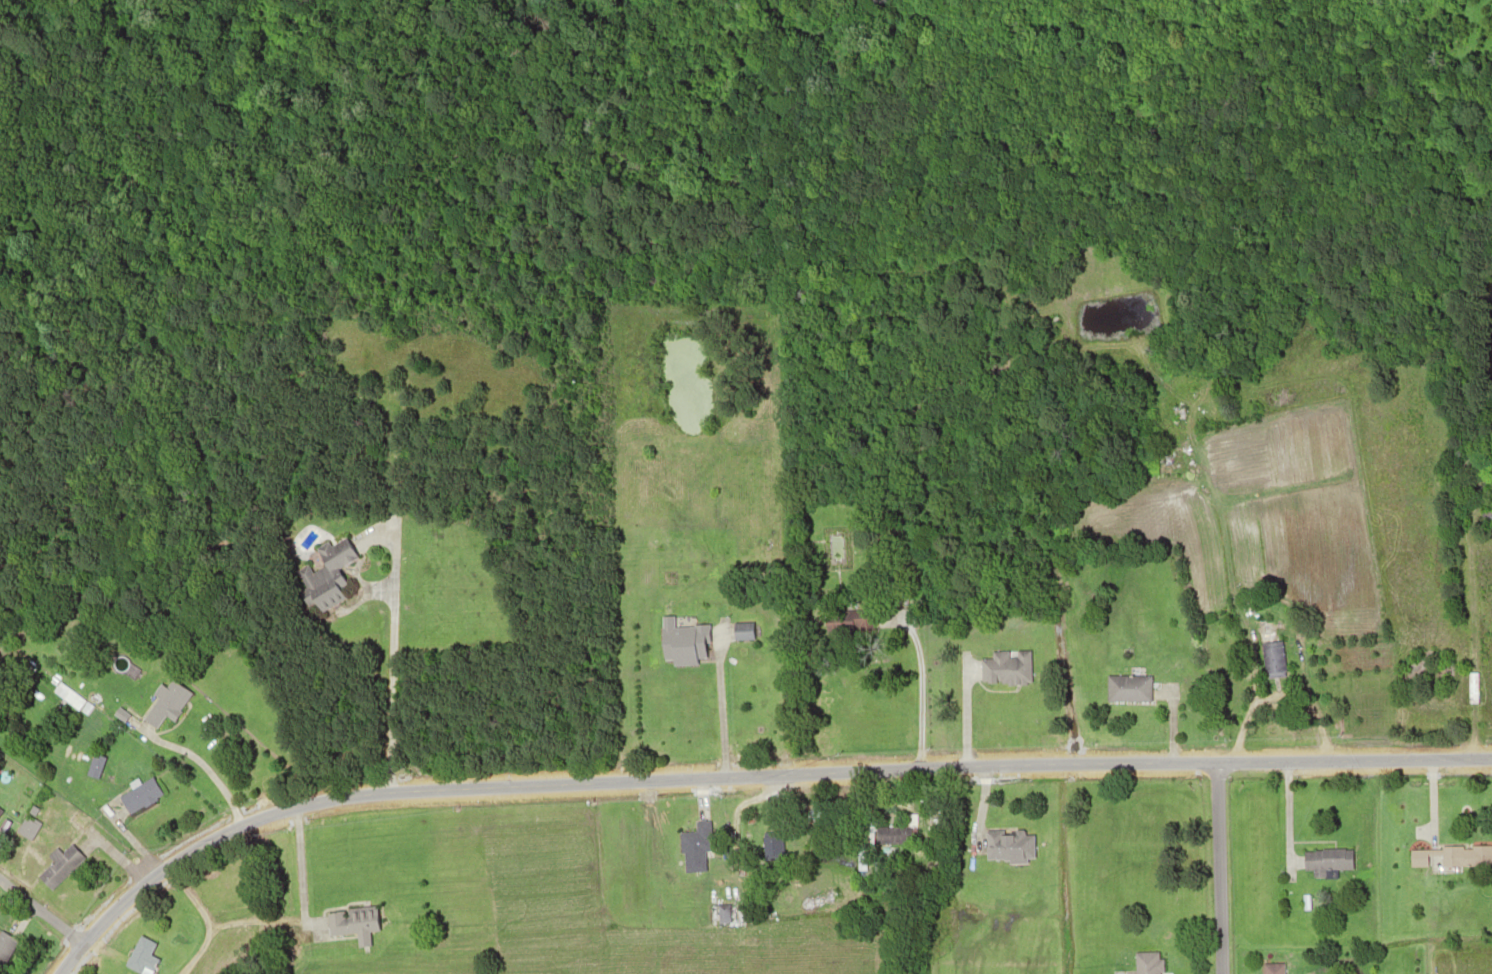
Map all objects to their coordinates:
building: (1489, 512)
building: (329, 562)
building: (325, 593)
building: (740, 632)
building: (682, 640)
building: (1272, 657)
building: (1004, 665)
building: (1126, 687)
building: (67, 696)
building: (163, 705)
road: (744, 776)
building: (140, 795)
building: (0, 811)
building: (812, 815)
building: (27, 825)
building: (894, 833)
building: (693, 840)
building: (1007, 843)
building: (768, 845)
building: (1450, 858)
building: (1325, 863)
building: (59, 867)
road: (1216, 869)
building: (722, 909)
road: (40, 914)
building: (351, 921)
building: (5, 947)
building: (142, 955)
building: (1144, 964)
building: (1272, 970)

